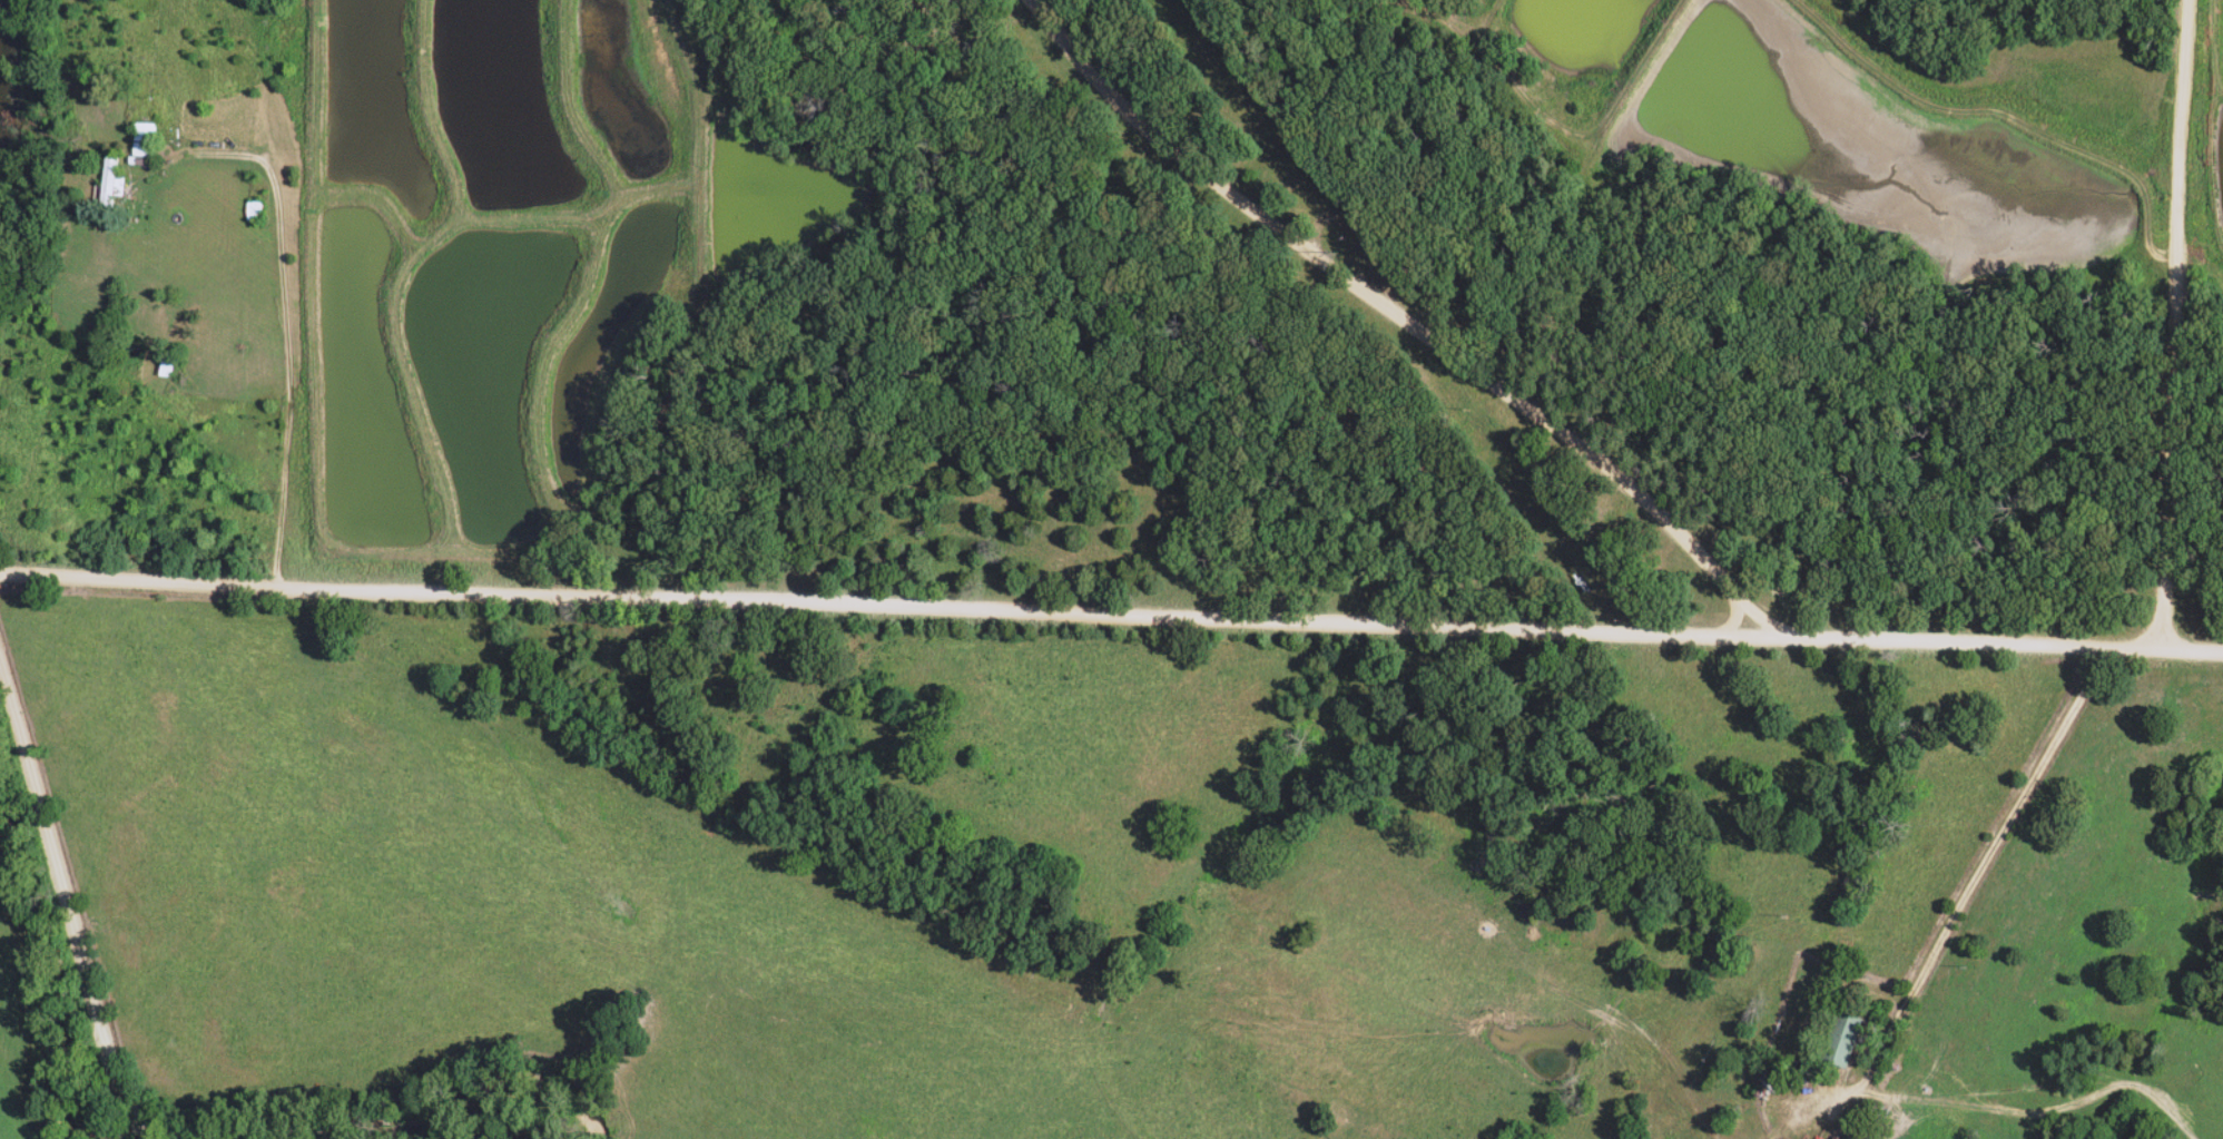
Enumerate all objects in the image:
road: (696, 122)
building: (142, 140)
building: (108, 184)
building: (252, 212)
road: (1398, 320)
road: (2185, 324)
road: (1111, 613)
road: (1969, 867)
road: (71, 884)
building: (1839, 1039)
building: (1788, 1117)

